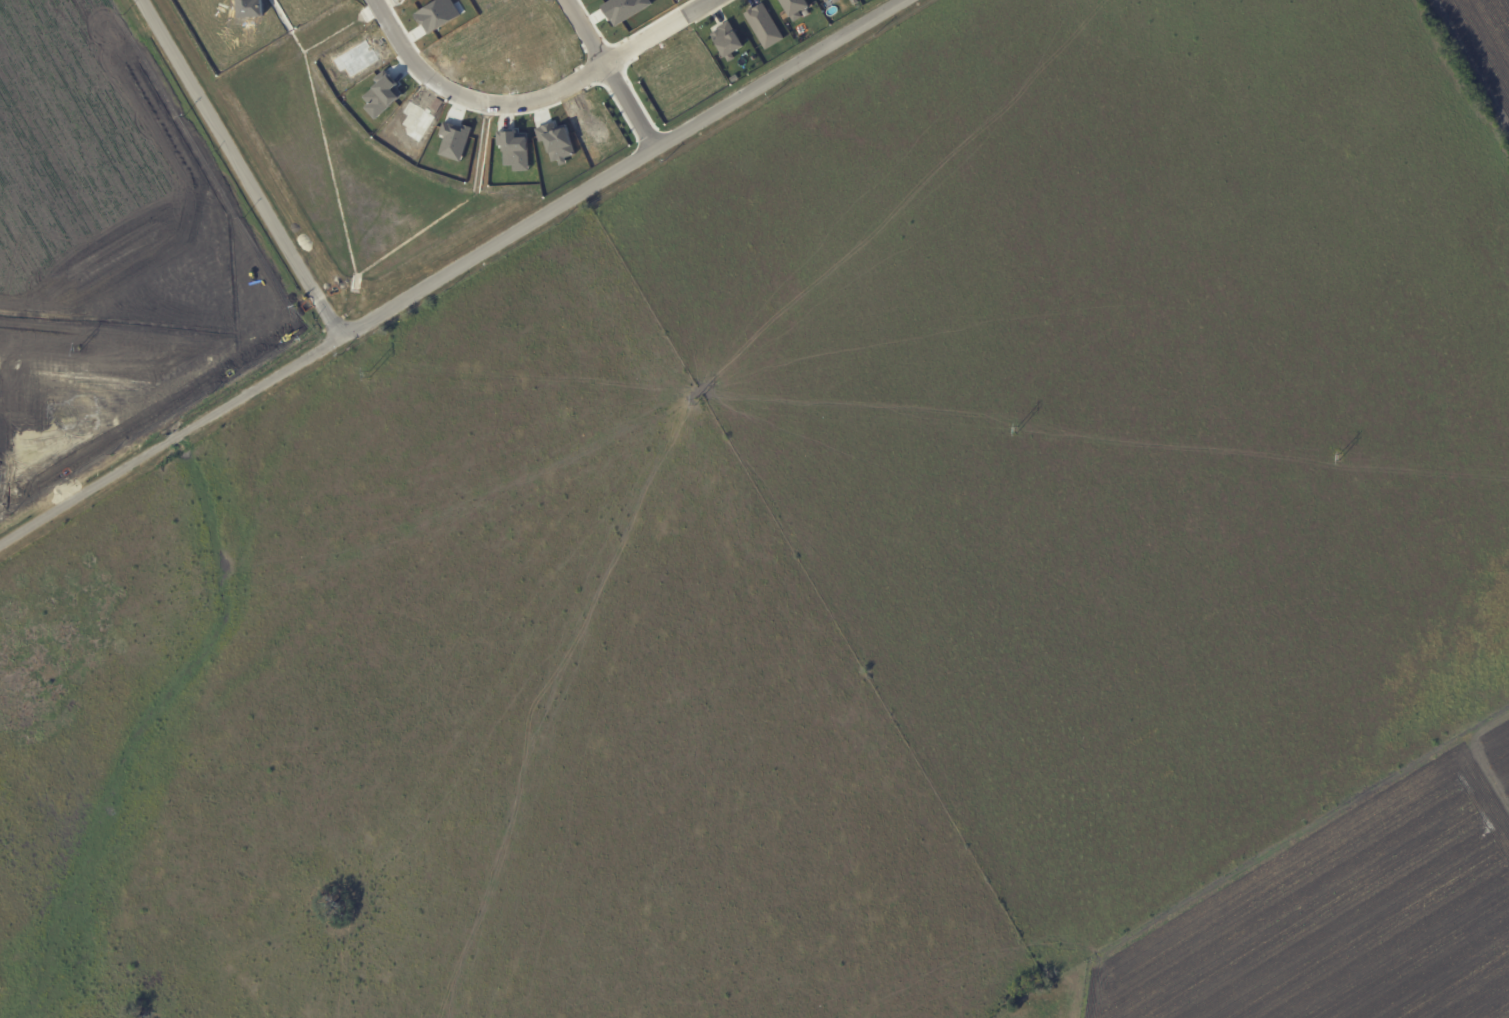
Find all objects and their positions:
building: (823, 0)
building: (790, 6)
building: (761, 25)
road: (658, 32)
building: (723, 38)
road: (609, 73)
road: (471, 98)
road: (620, 167)
road: (241, 168)
power tower: (90, 354)
power tower: (380, 378)
power tower: (704, 405)
power tower: (1003, 432)
road: (170, 442)
power tower: (1332, 458)

